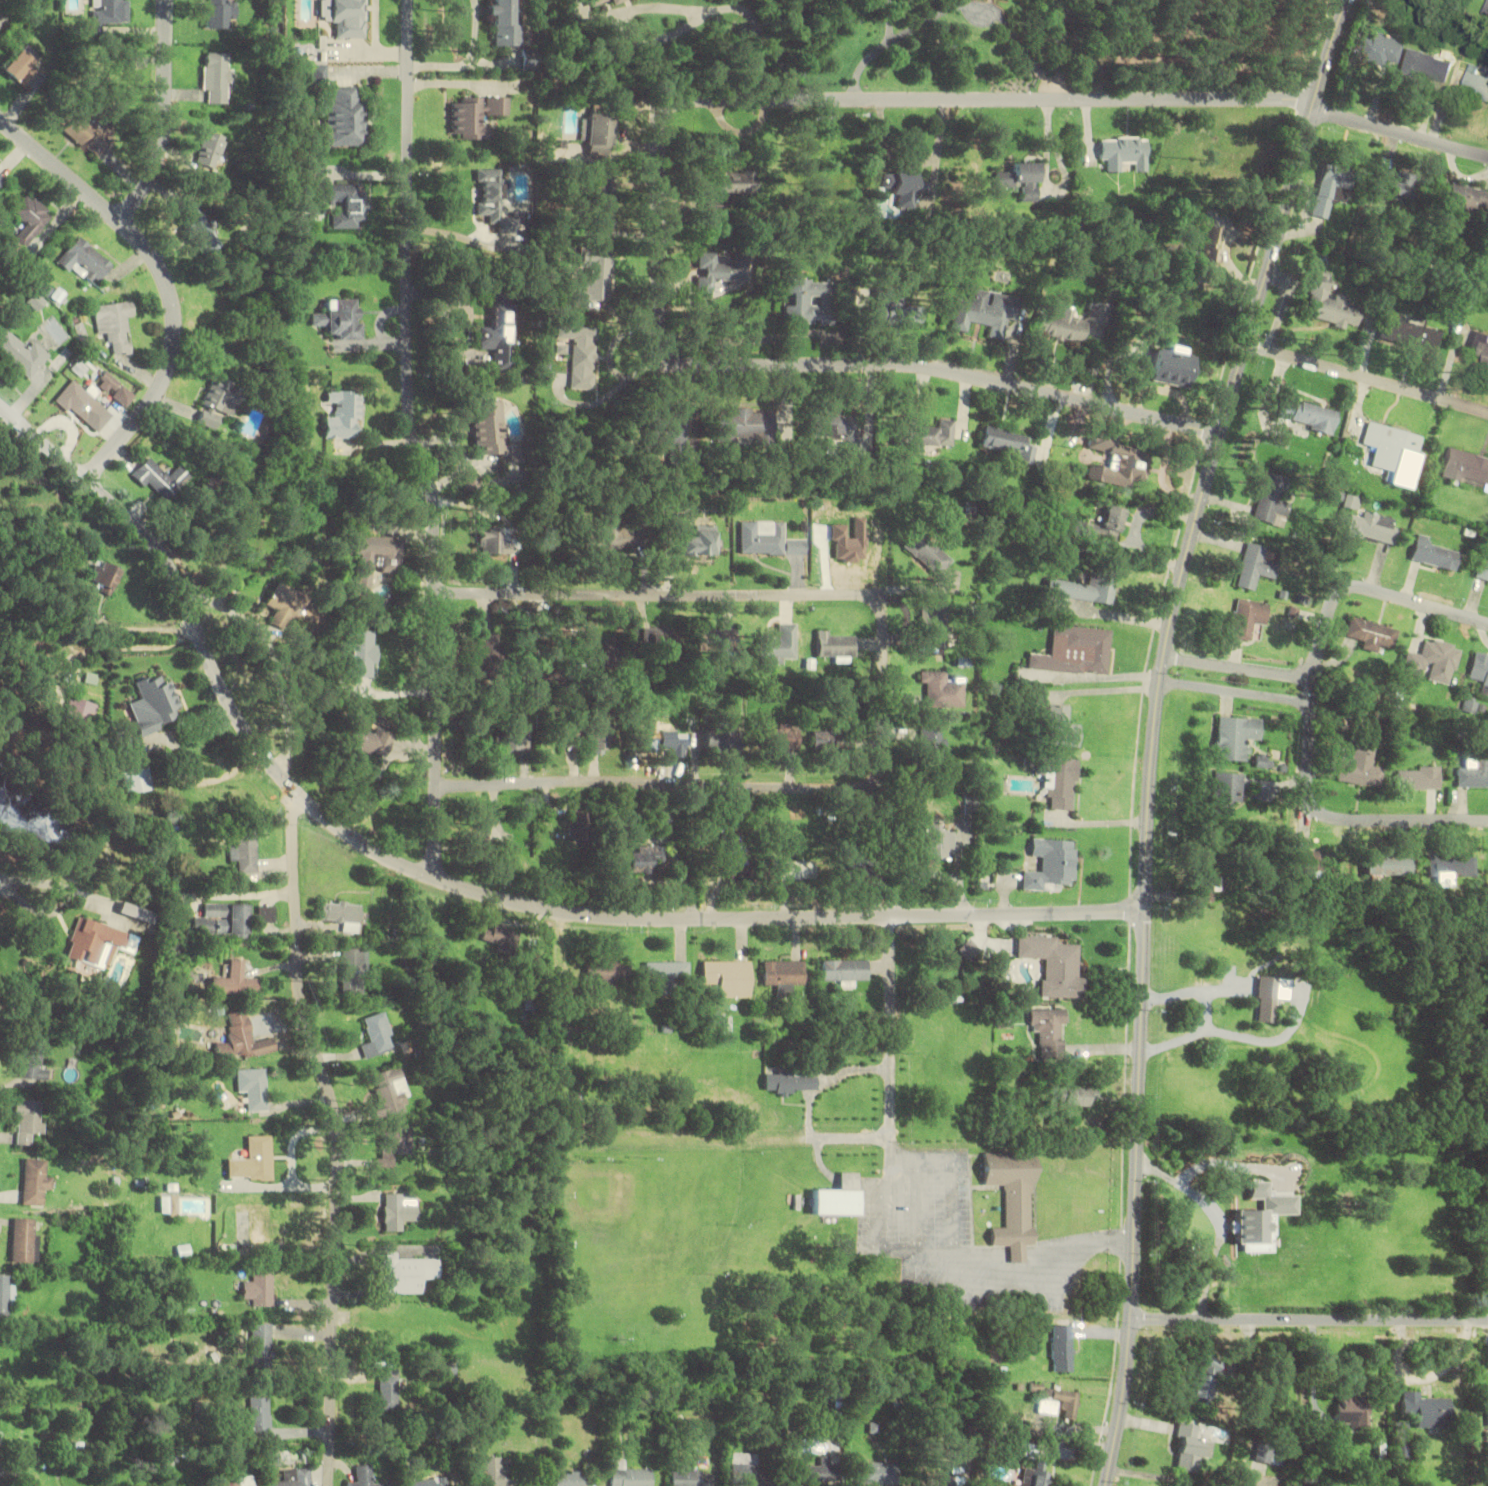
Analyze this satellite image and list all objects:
building: (612, 0)
building: (594, 1)
building: (1485, 8)
building: (220, 13)
building: (106, 16)
building: (346, 18)
building: (503, 22)
building: (1380, 49)
building: (1426, 64)
building: (26, 65)
building: (217, 77)
building: (1475, 85)
building: (475, 115)
building: (343, 118)
building: (88, 132)
building: (600, 133)
road: (1400, 134)
building: (210, 149)
building: (1125, 152)
road: (62, 169)
building: (2, 177)
building: (1023, 179)
building: (1404, 184)
building: (904, 187)
road: (659, 188)
building: (732, 189)
building: (1327, 192)
building: (1466, 198)
building: (604, 200)
building: (495, 201)
building: (343, 203)
building: (31, 219)
building: (199, 228)
road: (147, 249)
building: (1209, 249)
building: (85, 259)
building: (722, 270)
building: (598, 278)
building: (809, 300)
building: (1330, 303)
building: (985, 313)
building: (1099, 313)
building: (903, 314)
building: (339, 318)
building: (116, 323)
building: (1061, 326)
building: (1411, 334)
building: (500, 343)
building: (1480, 345)
building: (22, 353)
building: (582, 355)
building: (63, 358)
building: (1171, 367)
road: (1368, 379)
building: (80, 401)
building: (219, 402)
building: (343, 414)
building: (1308, 415)
building: (491, 426)
building: (746, 426)
building: (841, 430)
building: (671, 432)
building: (929, 432)
road: (415, 440)
building: (1011, 442)
road: (45, 443)
building: (1395, 452)
building: (1119, 461)
building: (1466, 466)
building: (164, 478)
building: (1273, 500)
building: (1353, 501)
building: (1103, 525)
building: (1374, 528)
building: (610, 535)
building: (769, 539)
building: (496, 541)
building: (702, 541)
building: (929, 552)
building: (1436, 554)
building: (374, 560)
building: (1256, 566)
building: (1483, 570)
building: (107, 577)
building: (1087, 587)
building: (285, 603)
building: (1248, 618)
building: (935, 628)
building: (1373, 634)
building: (722, 639)
building: (665, 643)
building: (780, 644)
building: (838, 646)
building: (1077, 650)
building: (364, 653)
building: (483, 653)
building: (1434, 662)
road: (1240, 670)
building: (1480, 672)
building: (945, 690)
road: (883, 691)
road: (1236, 693)
building: (153, 704)
road: (1310, 710)
building: (81, 712)
building: (1057, 724)
road: (1155, 731)
building: (572, 735)
building: (597, 735)
building: (1237, 737)
building: (516, 738)
building: (724, 738)
building: (782, 738)
building: (663, 739)
building: (828, 739)
building: (367, 740)
building: (934, 745)
building: (1361, 766)
building: (1474, 774)
building: (1419, 778)
building: (136, 780)
building: (1061, 787)
building: (1226, 792)
building: (973, 804)
building: (582, 824)
building: (478, 840)
building: (936, 841)
building: (244, 851)
building: (643, 860)
building: (1316, 862)
building: (1053, 863)
building: (859, 864)
building: (1389, 865)
building: (1451, 867)
building: (741, 868)
building: (799, 870)
building: (1202, 883)
road: (517, 904)
building: (133, 912)
building: (265, 913)
building: (342, 914)
building: (222, 919)
building: (500, 935)
building: (97, 943)
building: (971, 949)
building: (1058, 965)
building: (354, 970)
building: (845, 971)
building: (668, 972)
building: (607, 973)
building: (785, 974)
building: (729, 977)
building: (234, 983)
building: (1210, 985)
building: (1268, 986)
building: (1050, 1029)
road: (892, 1031)
building: (378, 1035)
building: (242, 1039)
building: (31, 1058)
building: (790, 1082)
building: (254, 1087)
building: (390, 1094)
building: (1078, 1095)
building: (29, 1120)
road: (338, 1137)
building: (395, 1143)
building: (253, 1160)
building: (35, 1181)
building: (840, 1196)
building: (1014, 1199)
building: (168, 1204)
building: (399, 1211)
park: (645, 1234)
building: (22, 1239)
building: (406, 1273)
building: (260, 1287)
building: (6, 1297)
road: (1310, 1321)
building: (261, 1345)
building: (1063, 1348)
building: (1207, 1377)
building: (389, 1389)
building: (1061, 1403)
building: (1427, 1410)
building: (1351, 1411)
building: (258, 1417)
building: (1402, 1431)
building: (1189, 1448)
building: (2, 1472)
building: (498, 1473)
building: (822, 1473)
building: (879, 1473)
building: (629, 1474)
building: (365, 1477)
building: (686, 1477)
building: (752, 1477)
building: (941, 1477)
building: (1036, 1477)
building: (296, 1478)
building: (572, 1478)
building: (242, 1482)
building: (426, 1482)

